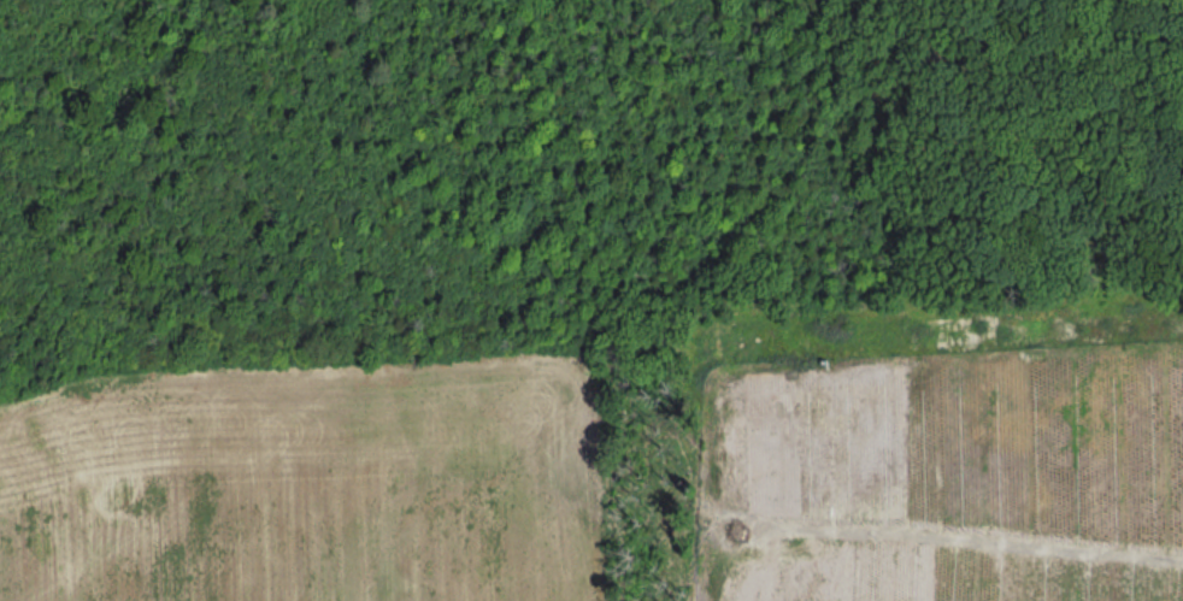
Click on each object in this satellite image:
crop: (287, 490)
road: (952, 541)

